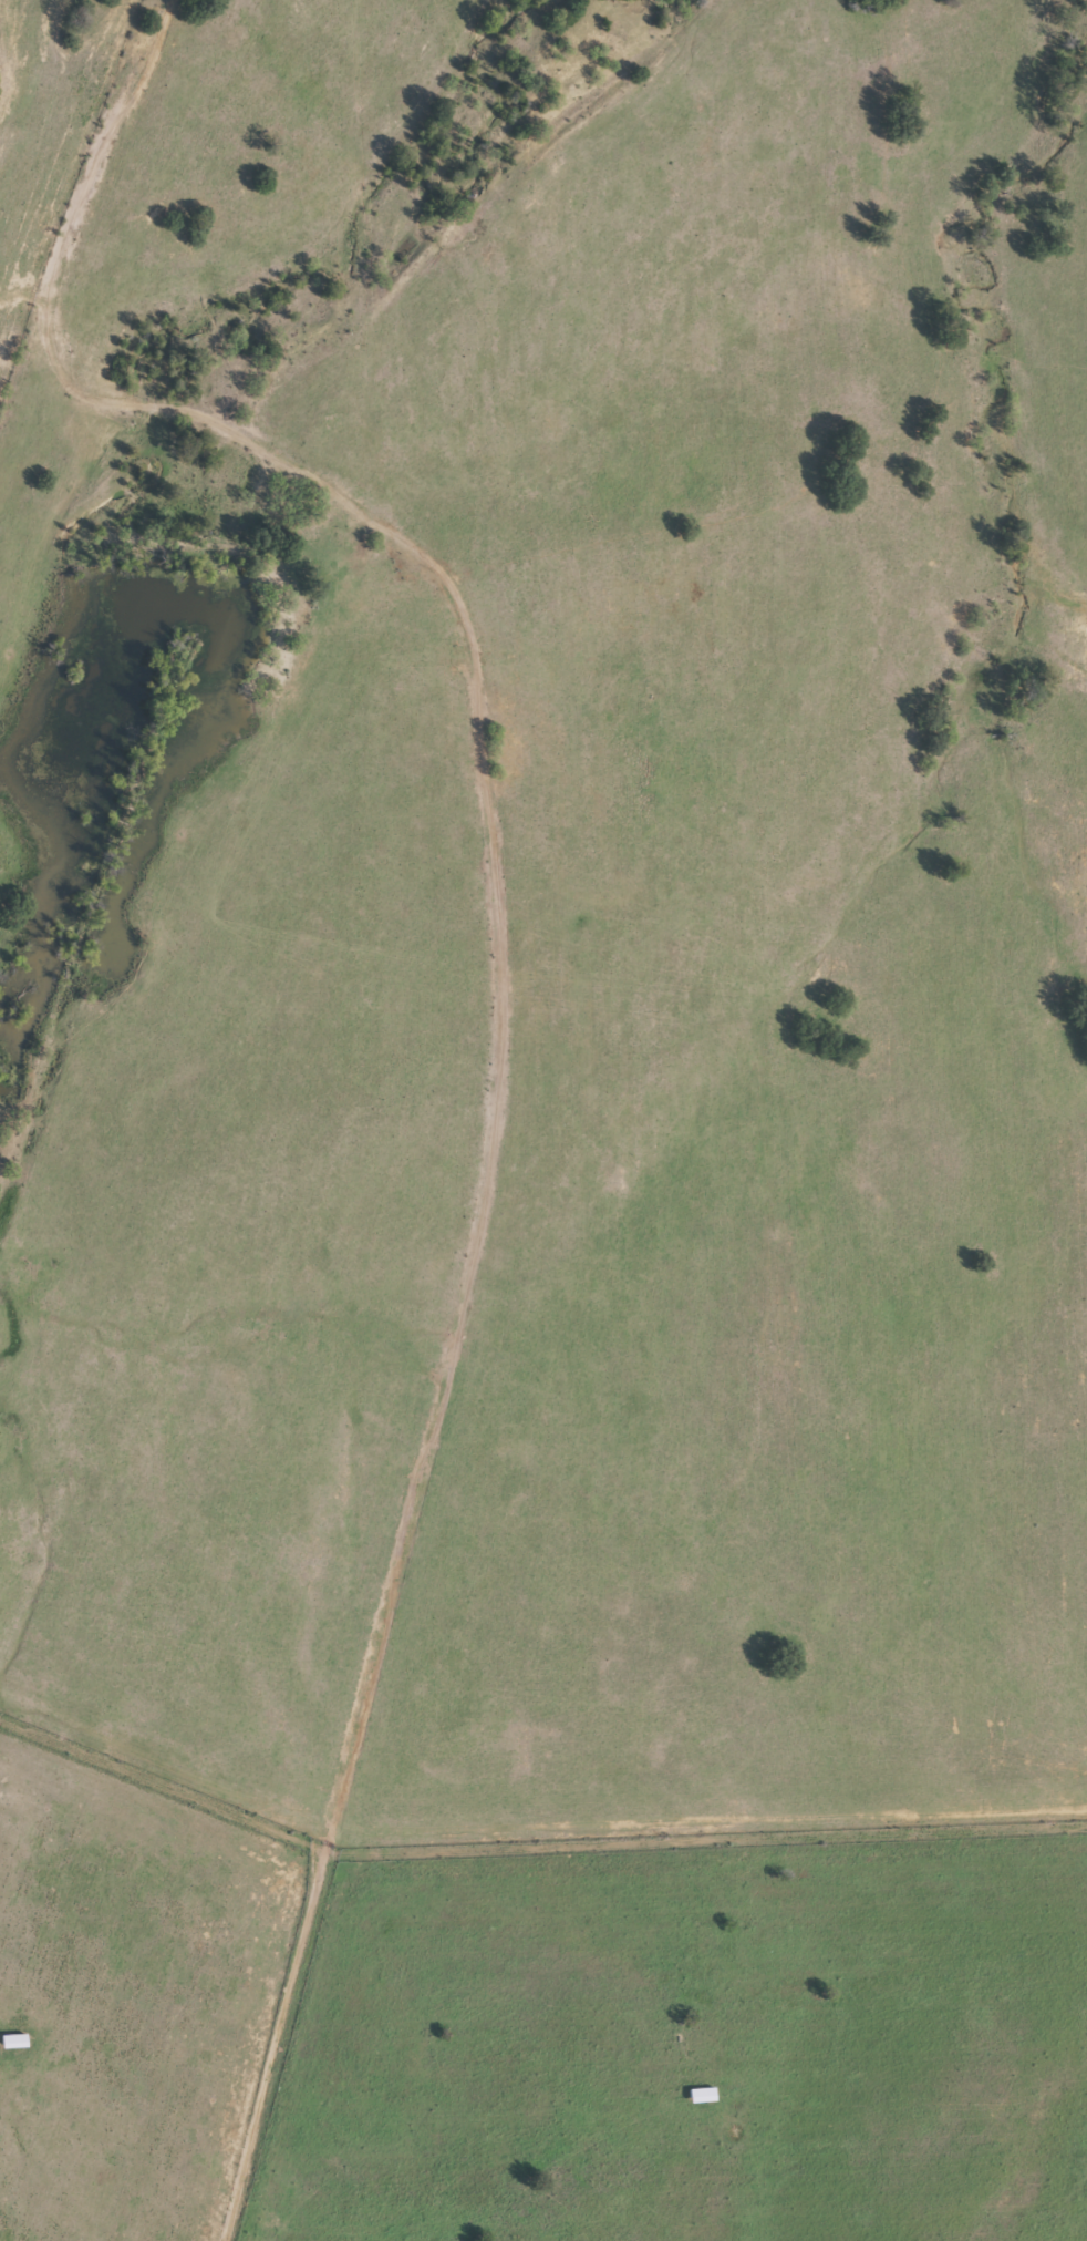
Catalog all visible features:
road: (441, 598)
road: (353, 1851)
building: (11, 2039)
building: (698, 2094)

